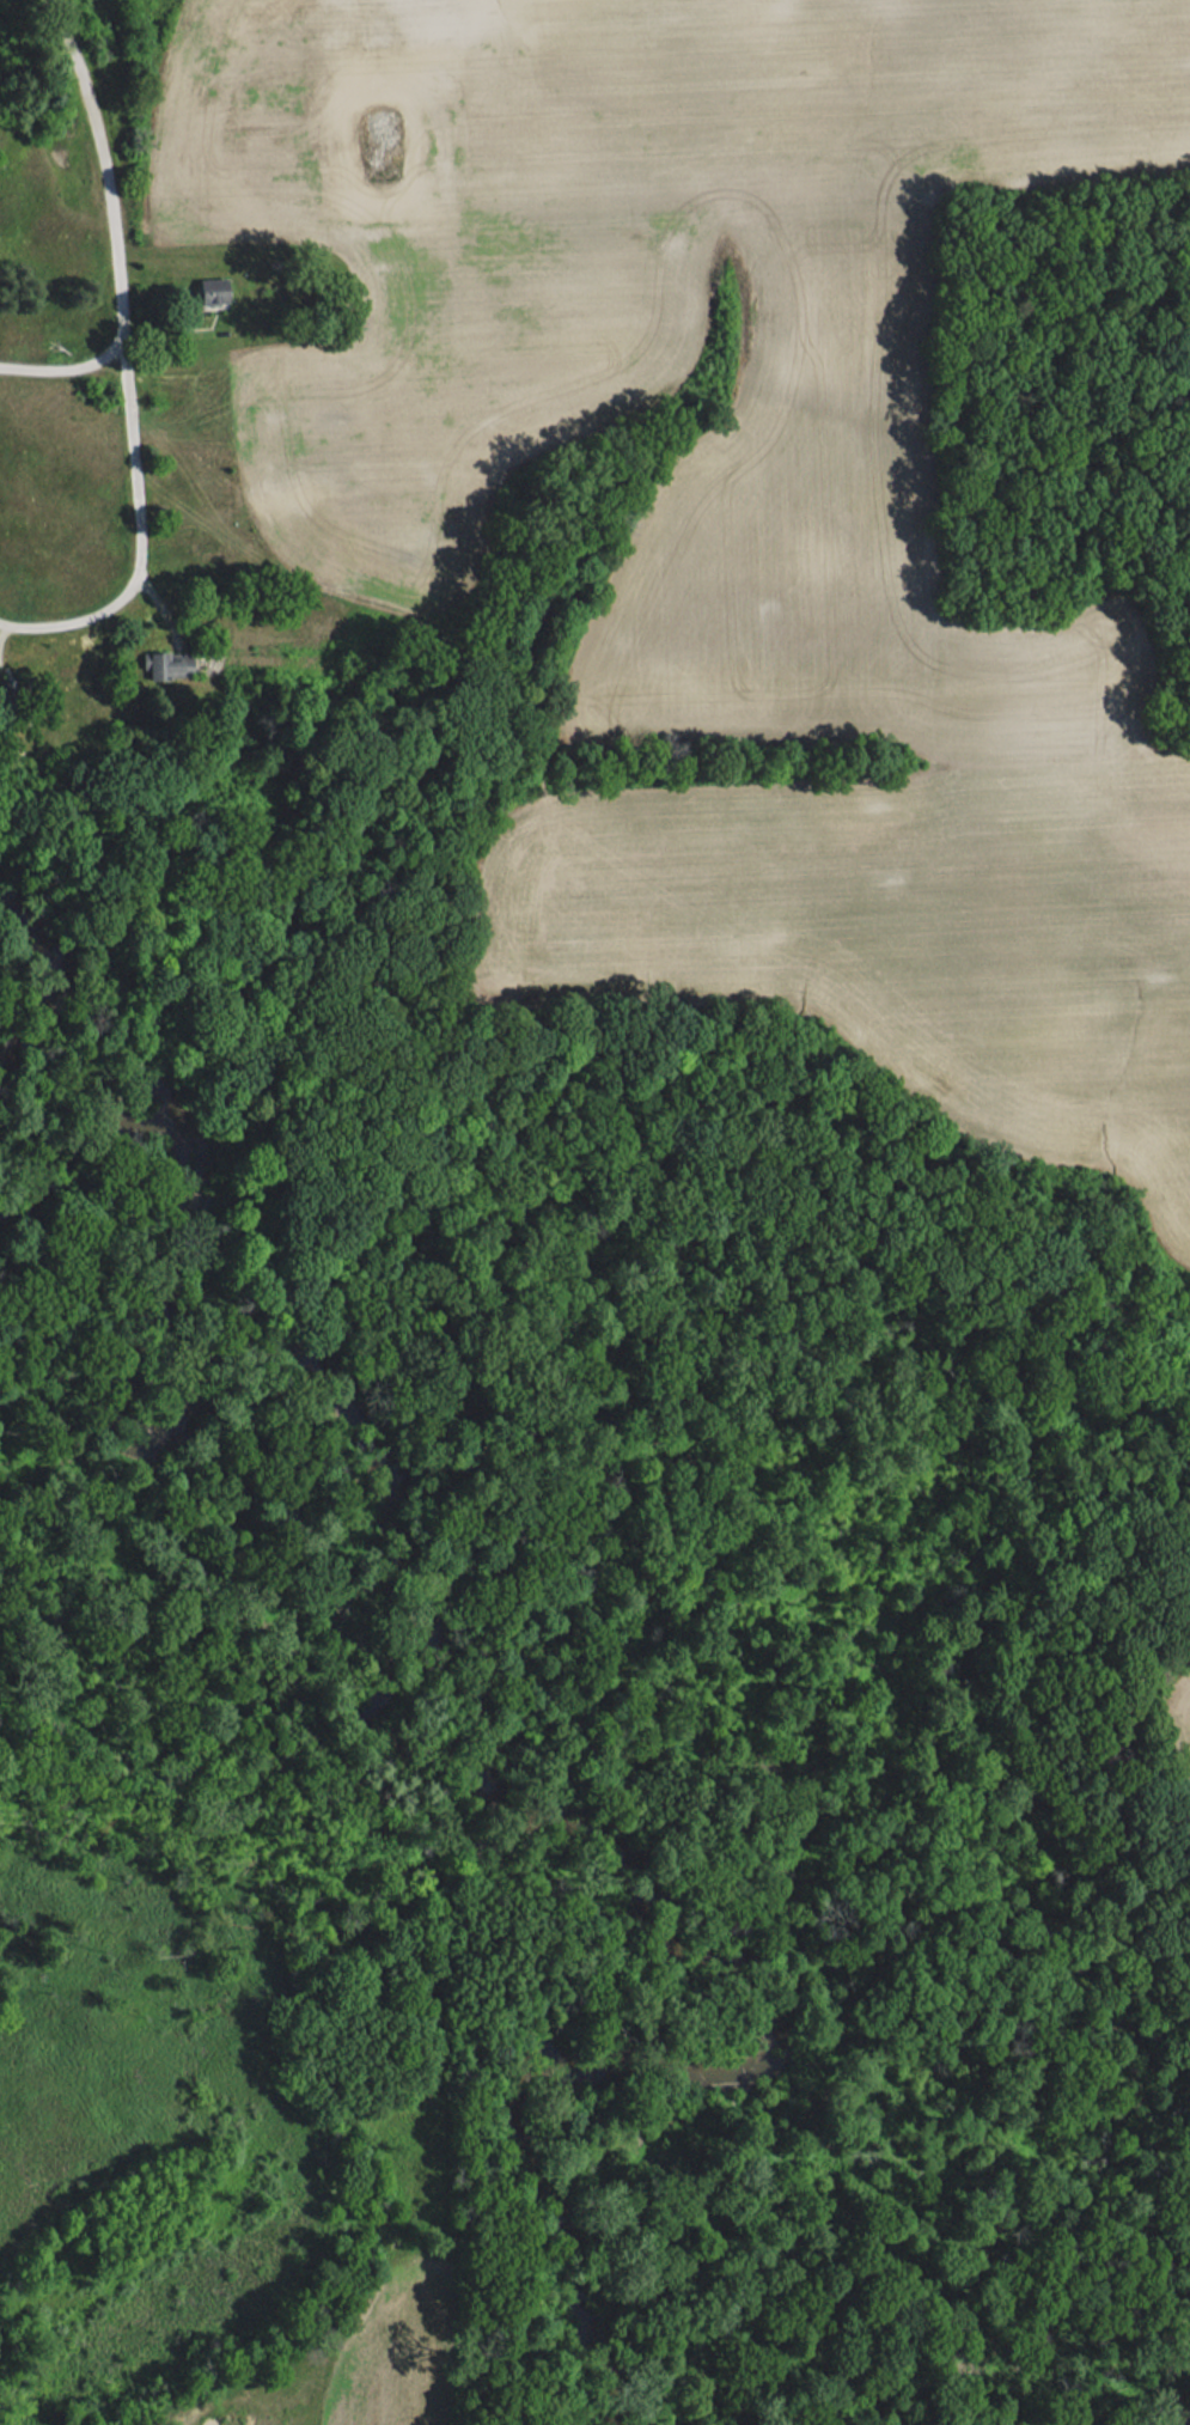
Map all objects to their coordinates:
road: (106, 158)
building: (213, 291)
road: (136, 452)
building: (167, 664)
river: (398, 1693)
river: (1183, 2421)

